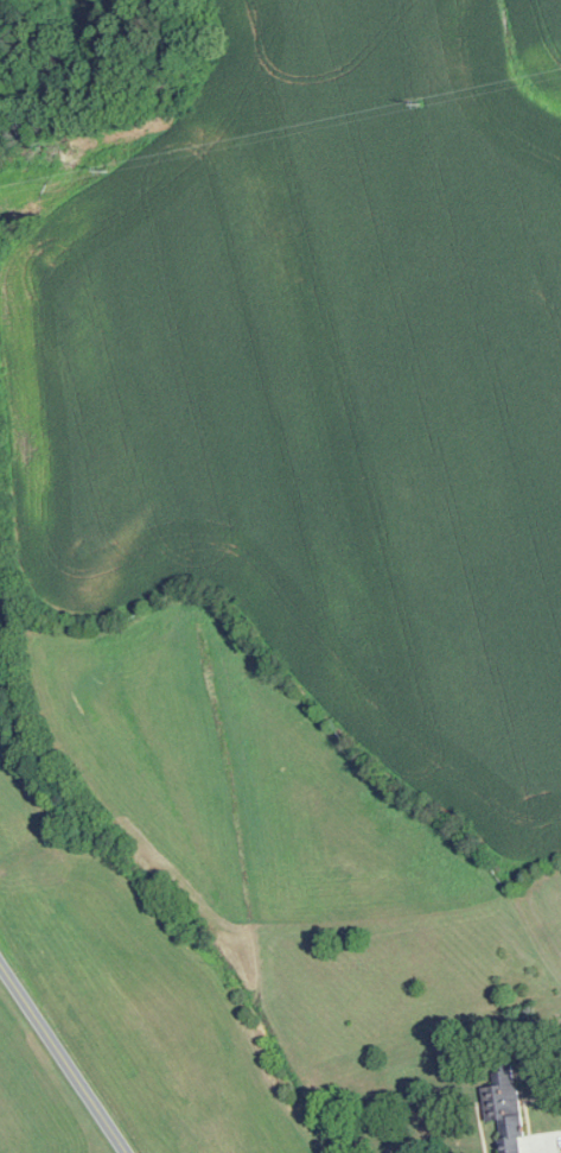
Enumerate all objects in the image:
building: (560, 1045)
road: (63, 1058)
building: (504, 1108)

